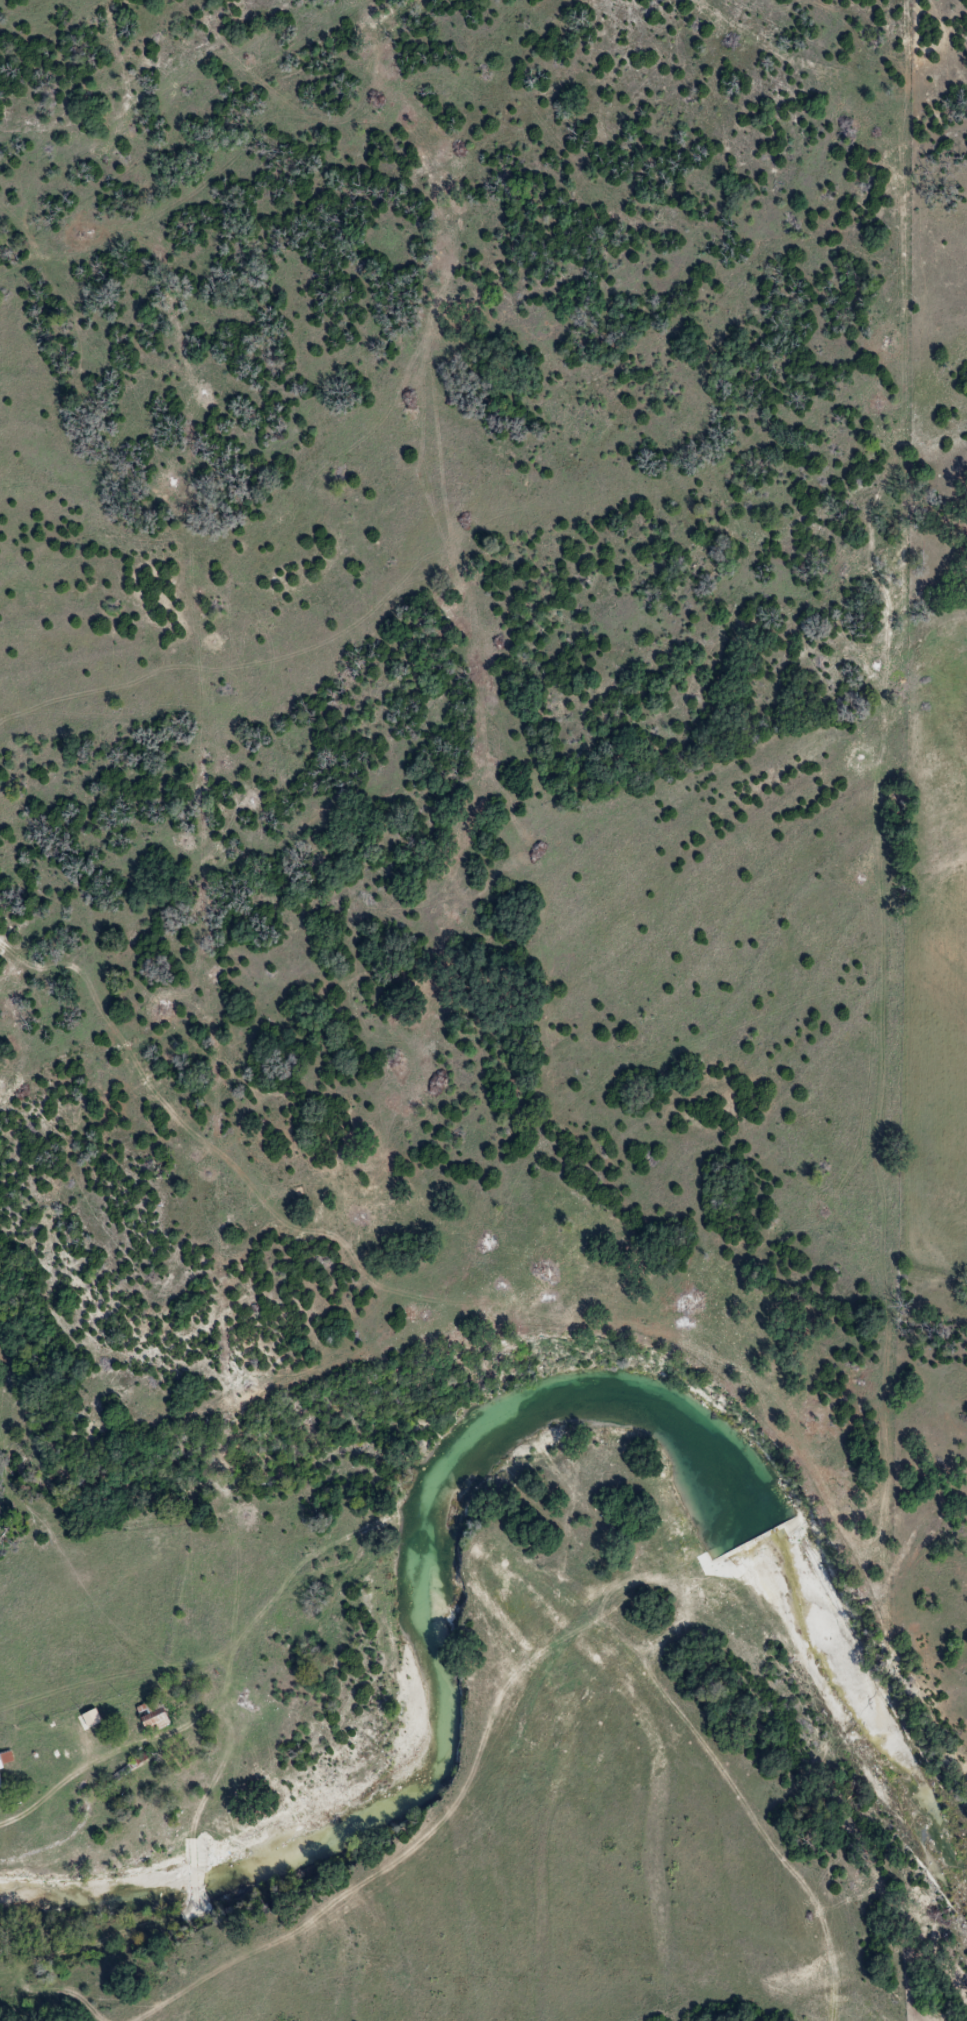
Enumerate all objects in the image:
building: (158, 1716)
building: (5, 1766)
road: (96, 1769)

